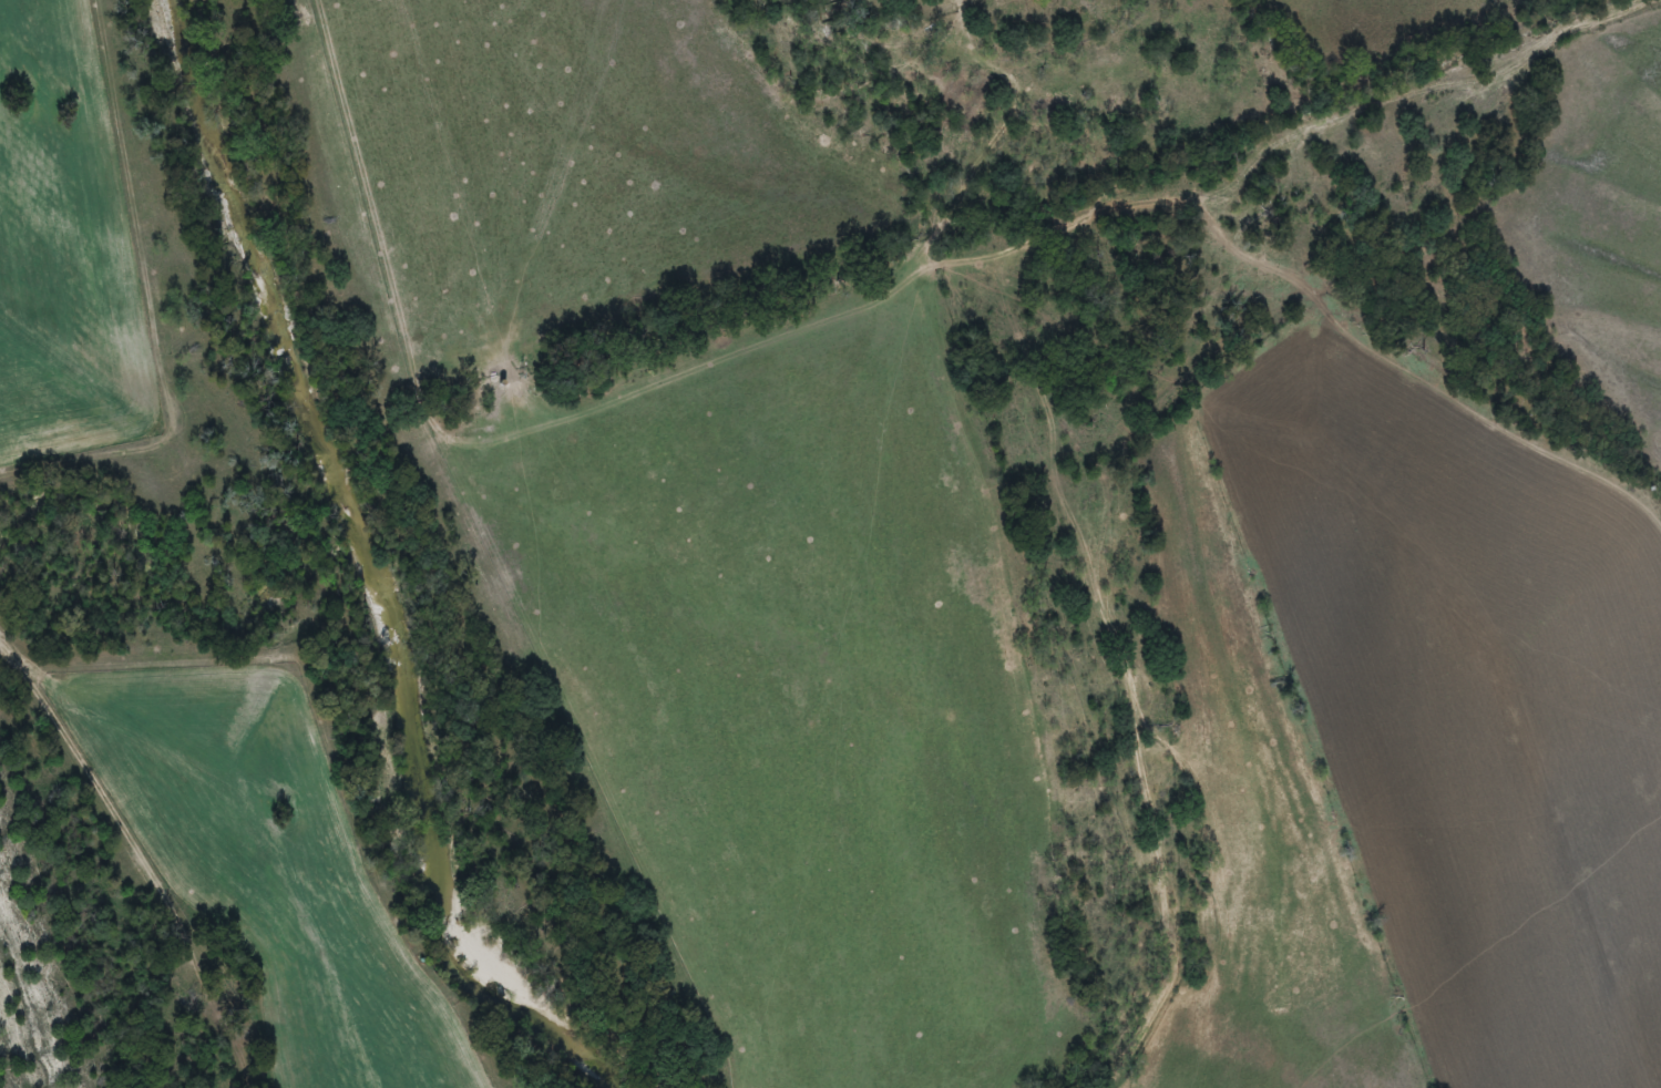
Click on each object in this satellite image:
road: (1124, 3)

